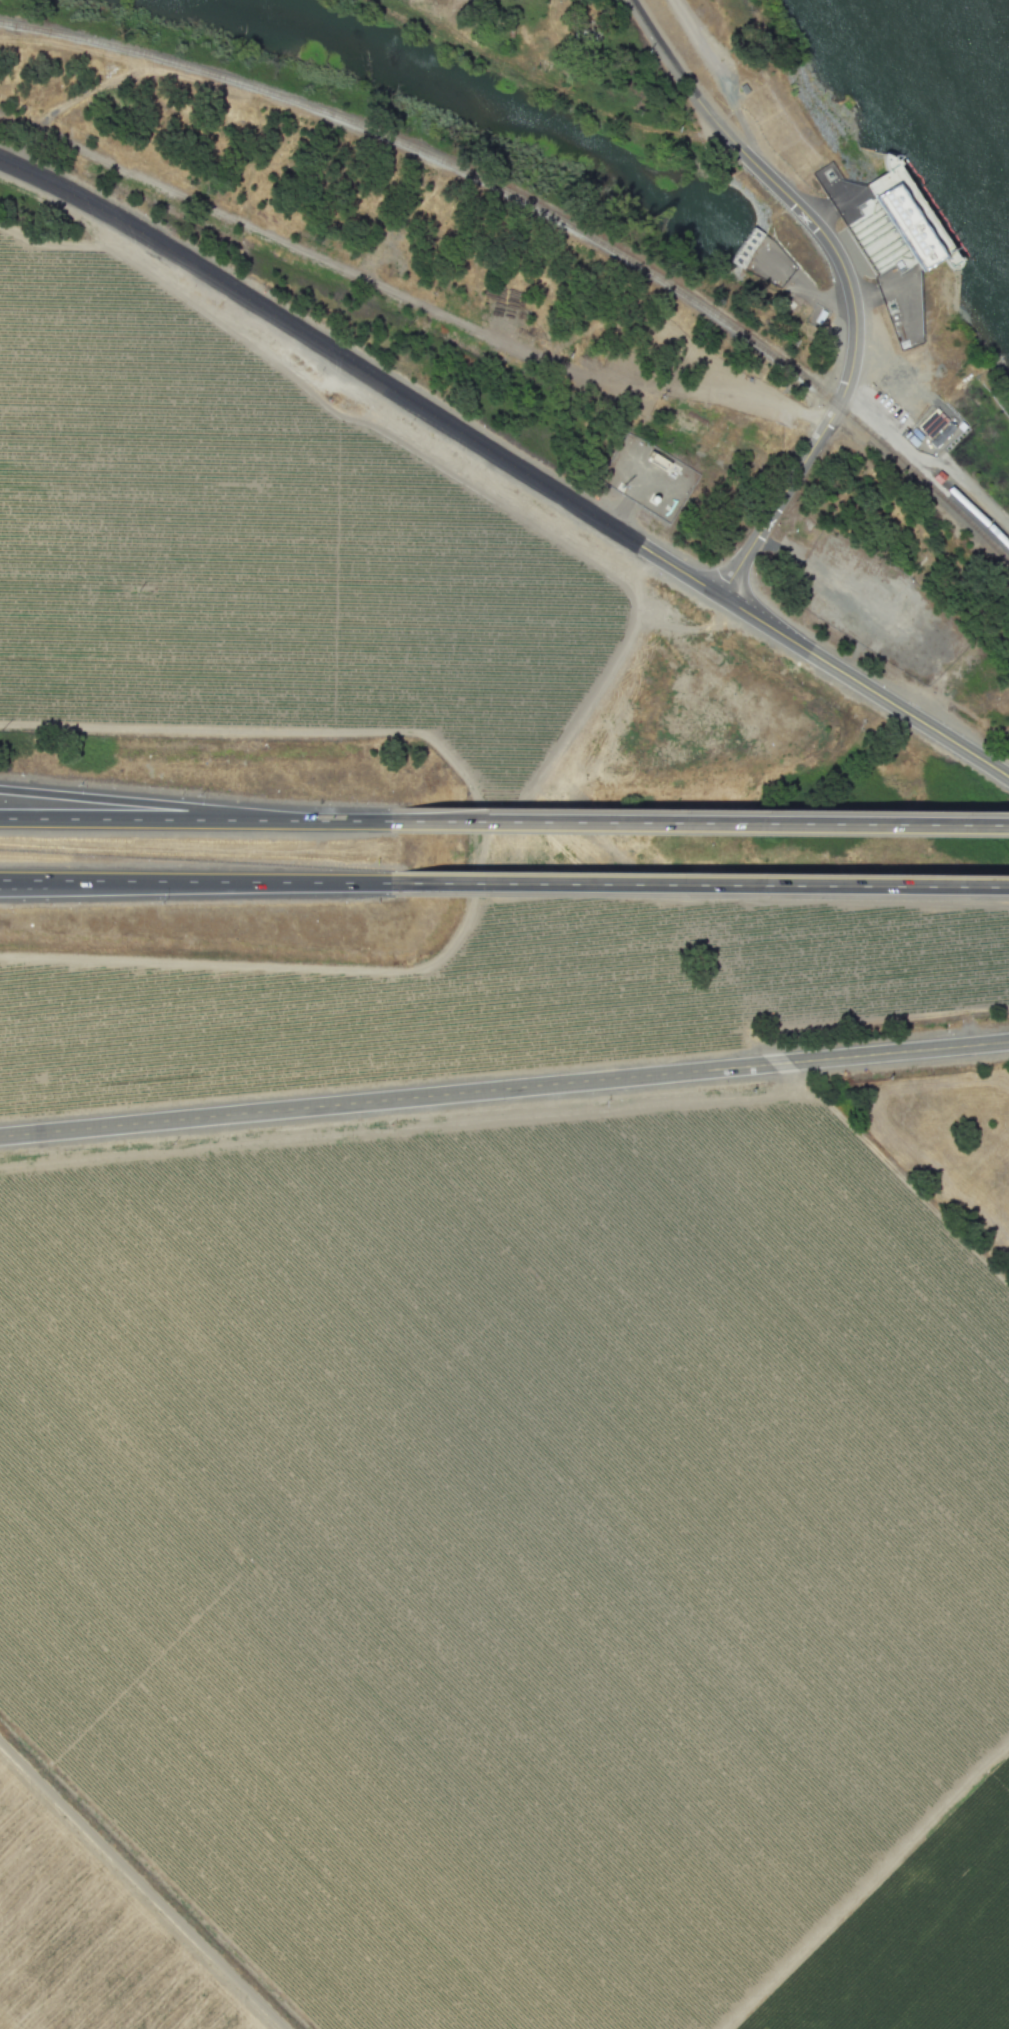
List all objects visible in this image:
river: (998, 18)
road: (722, 86)
railway: (546, 214)
building: (900, 234)
building: (746, 247)
building: (761, 256)
road: (844, 279)
road: (879, 292)
road: (819, 296)
road: (860, 413)
road: (508, 463)
crop: (384, 730)
road: (131, 802)
road: (131, 821)
road: (330, 822)
road: (703, 824)
road: (197, 884)
road: (701, 888)
road: (504, 1090)
crop: (503, 1580)
road: (143, 1884)

